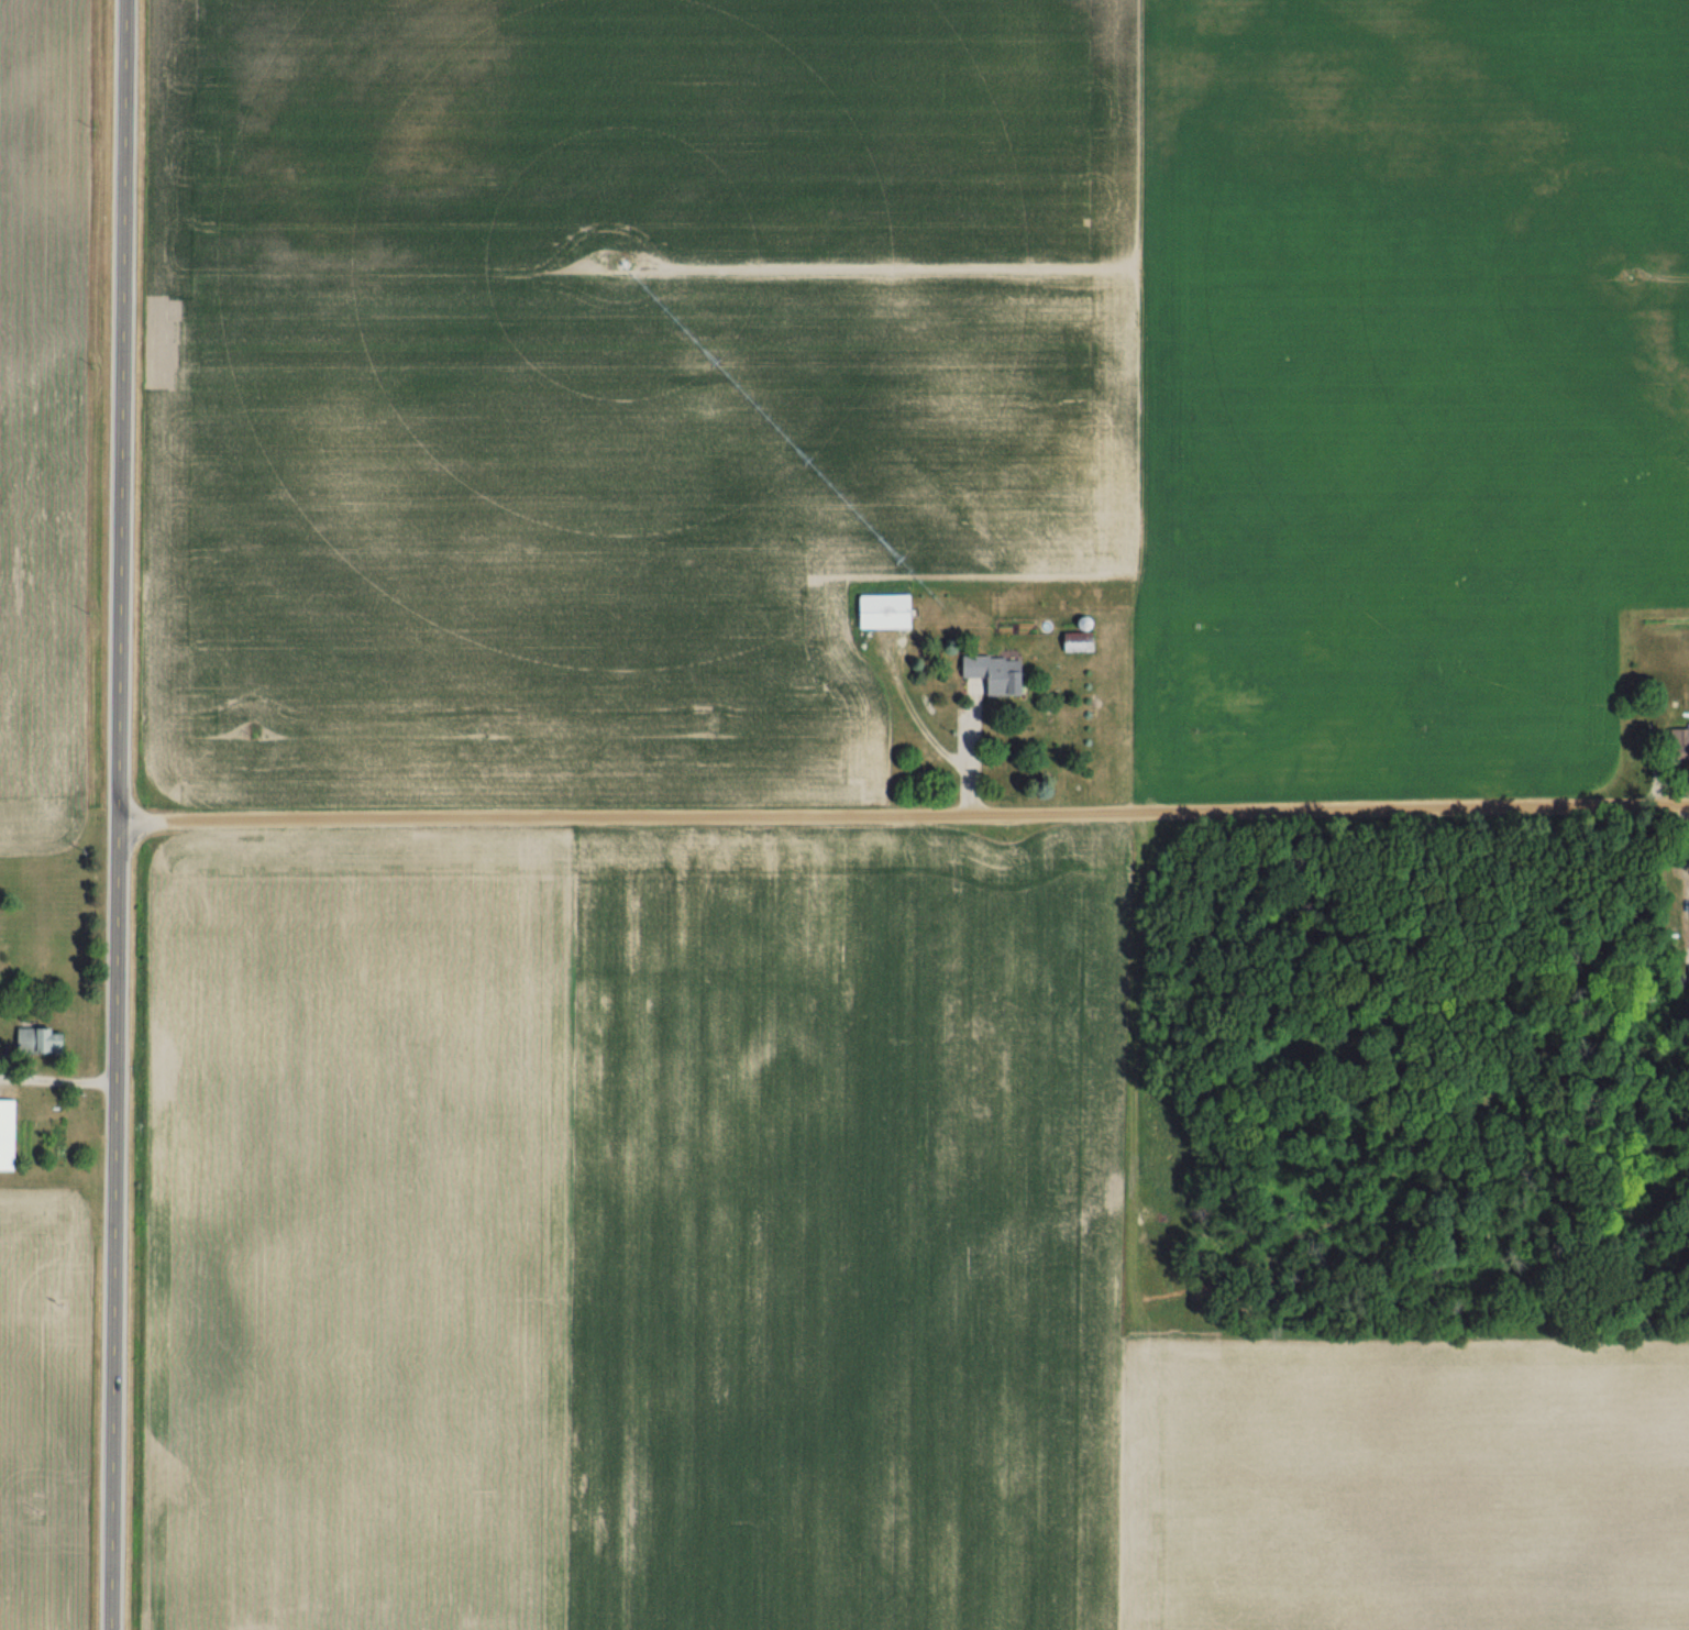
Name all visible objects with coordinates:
building: (879, 610)
building: (1072, 642)
building: (987, 674)
building: (1677, 738)
road: (972, 752)
road: (903, 814)
road: (118, 815)
building: (1687, 908)
building: (48, 1039)
road: (57, 1079)
building: (11, 1133)

